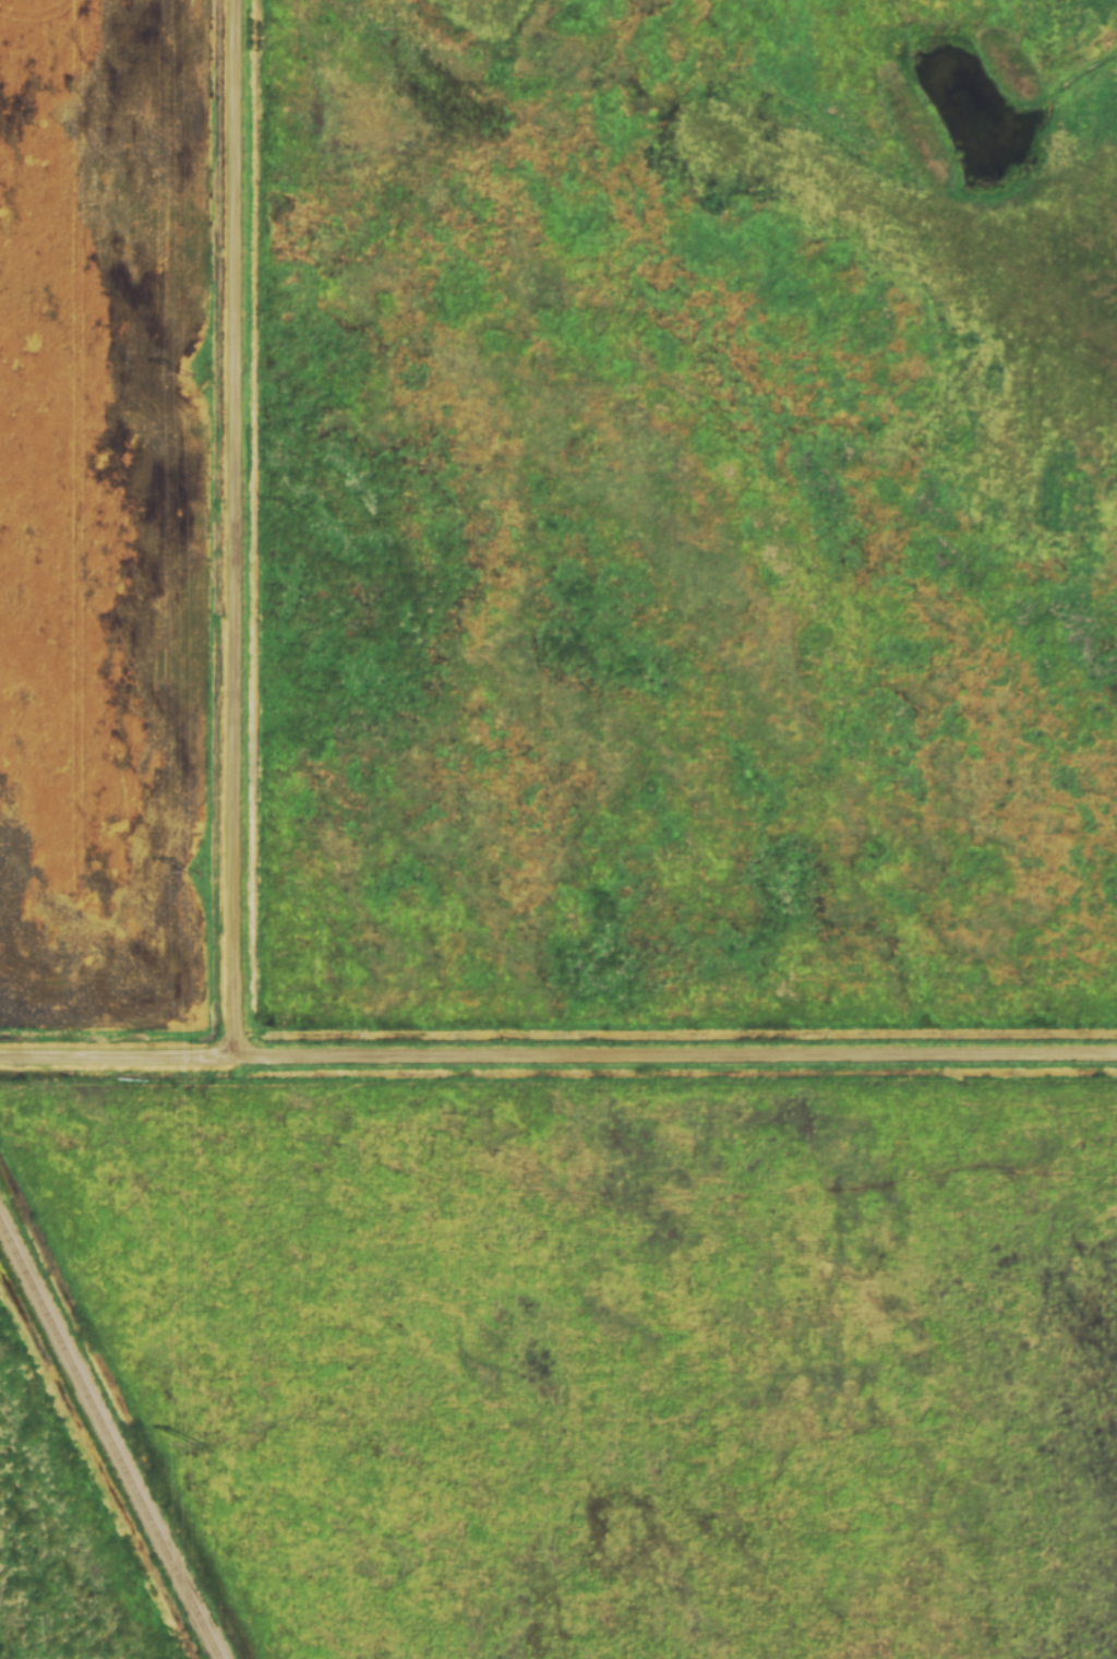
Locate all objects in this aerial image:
power tower: (189, 374)
road: (230, 526)
power tower: (193, 871)
road: (115, 1053)
road: (673, 1053)
railway: (109, 1440)
power tower: (200, 1442)

